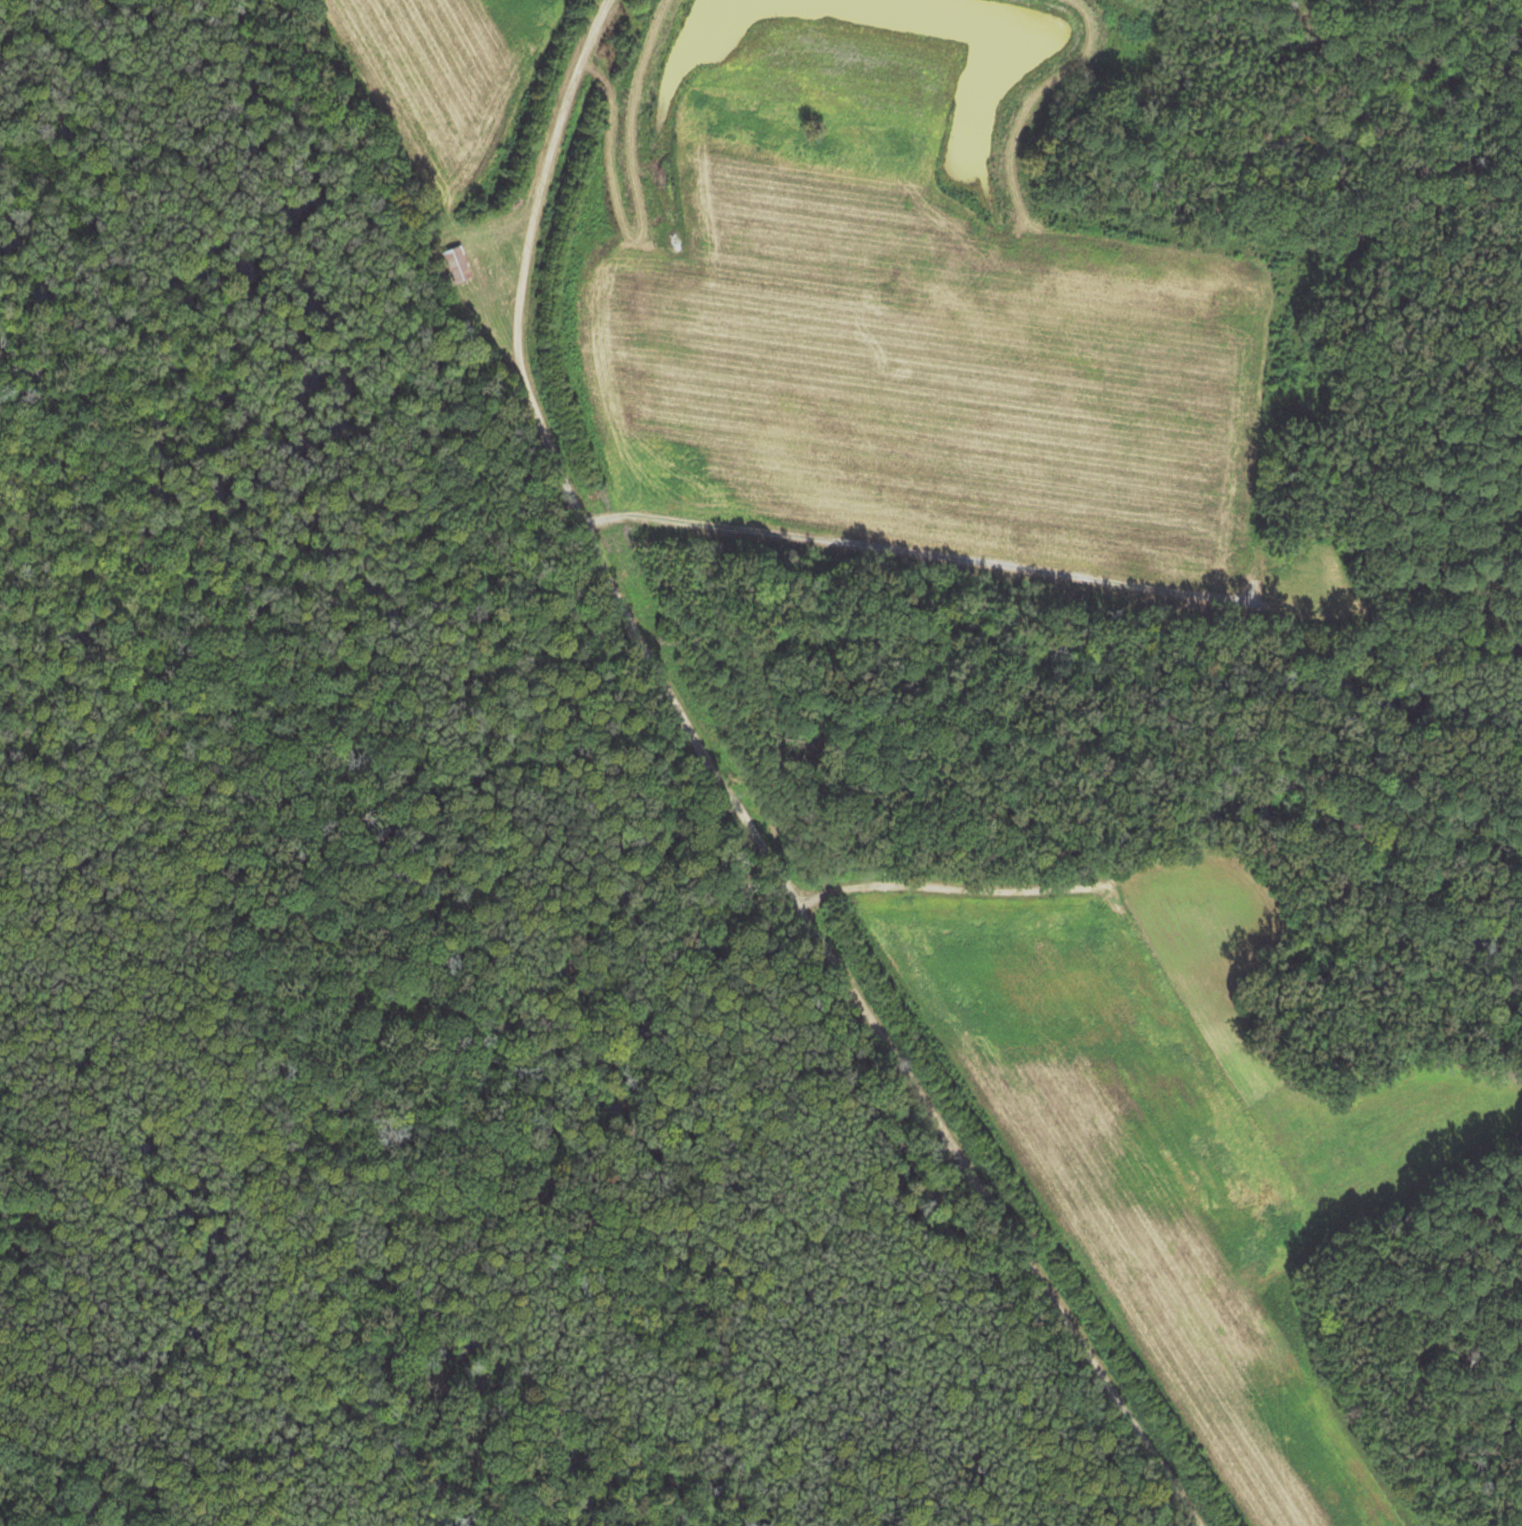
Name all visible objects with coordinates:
building: (458, 266)
road: (729, 800)

